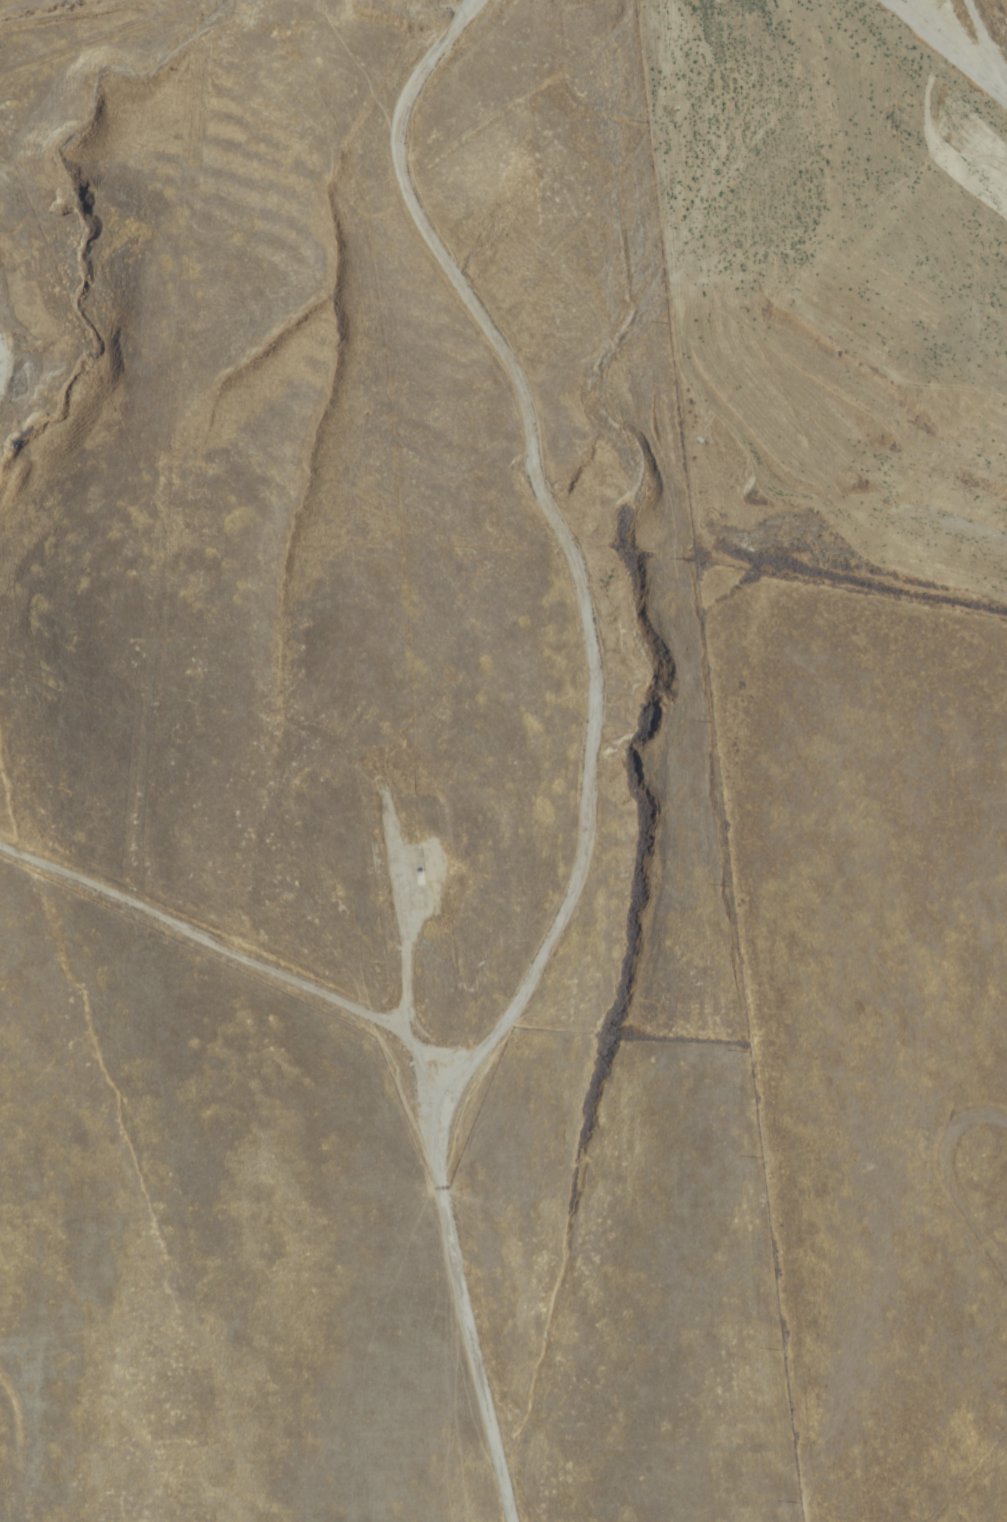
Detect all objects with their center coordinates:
road: (63, 15)
road: (986, 46)
road: (944, 52)
road: (615, 762)
quarry: (363, 792)
road: (227, 997)

